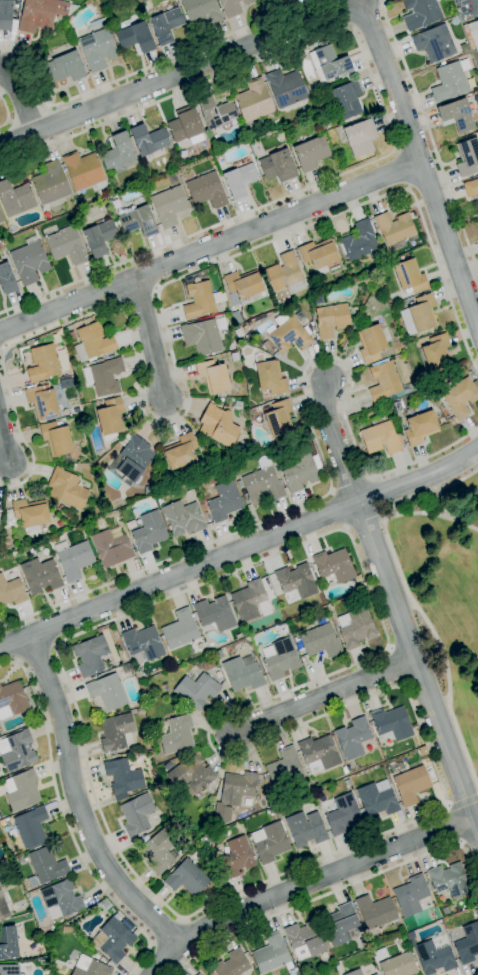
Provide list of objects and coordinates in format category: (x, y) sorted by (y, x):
road: (475, 5)
building: (233, 7)
building: (202, 11)
building: (154, 12)
building: (420, 13)
building: (6, 14)
building: (41, 14)
building: (166, 25)
building: (74, 33)
building: (472, 35)
building: (135, 38)
building: (434, 43)
building: (98, 45)
building: (328, 62)
building: (65, 67)
road: (142, 70)
road: (180, 75)
building: (450, 81)
building: (286, 88)
building: (347, 99)
building: (254, 101)
road: (23, 103)
road: (384, 112)
road: (6, 113)
building: (216, 113)
building: (457, 115)
building: (186, 126)
building: (360, 137)
road: (430, 137)
building: (148, 140)
building: (118, 153)
building: (311, 153)
building: (217, 155)
building: (467, 157)
road: (422, 164)
building: (278, 166)
road: (400, 169)
building: (84, 171)
building: (172, 179)
building: (239, 180)
building: (50, 183)
building: (145, 184)
building: (471, 187)
building: (207, 190)
building: (15, 197)
building: (169, 205)
building: (1, 218)
building: (138, 221)
building: (395, 229)
building: (99, 237)
building: (360, 241)
building: (66, 245)
road: (211, 248)
building: (318, 255)
building: (29, 261)
building: (354, 269)
building: (285, 274)
building: (409, 277)
building: (7, 279)
building: (367, 281)
building: (243, 284)
building: (234, 299)
building: (200, 300)
building: (419, 315)
building: (362, 316)
building: (331, 320)
building: (249, 323)
building: (244, 327)
building: (288, 333)
building: (71, 336)
building: (202, 337)
road: (149, 338)
building: (93, 342)
building: (371, 343)
road: (168, 344)
building: (267, 344)
building: (434, 354)
building: (234, 357)
building: (43, 363)
building: (213, 376)
building: (104, 377)
building: (270, 378)
building: (386, 382)
building: (459, 397)
building: (43, 402)
building: (76, 410)
building: (111, 419)
building: (278, 420)
building: (218, 425)
building: (420, 427)
building: (381, 437)
building: (57, 440)
road: (335, 443)
road: (4, 444)
building: (181, 451)
building: (208, 451)
building: (226, 454)
building: (131, 459)
road: (323, 463)
building: (301, 470)
building: (263, 483)
building: (239, 484)
building: (66, 488)
building: (156, 495)
road: (377, 496)
building: (224, 501)
building: (61, 508)
road: (338, 510)
building: (31, 514)
road: (434, 516)
building: (183, 518)
road: (364, 521)
building: (130, 524)
building: (126, 530)
building: (149, 532)
building: (112, 546)
road: (239, 549)
building: (74, 559)
building: (334, 566)
building: (40, 575)
building: (296, 581)
building: (11, 592)
park: (442, 597)
building: (248, 600)
road: (413, 605)
building: (215, 613)
building: (355, 628)
building: (180, 630)
building: (320, 641)
building: (143, 643)
road: (53, 647)
road: (35, 652)
building: (91, 655)
building: (280, 658)
road: (18, 661)
road: (417, 668)
road: (334, 671)
building: (243, 673)
building: (218, 675)
building: (196, 690)
building: (107, 691)
road: (321, 697)
building: (12, 700)
building: (391, 724)
building: (372, 729)
building: (116, 732)
building: (177, 735)
building: (353, 738)
building: (17, 751)
building: (319, 754)
building: (168, 766)
building: (285, 768)
building: (344, 770)
building: (190, 775)
building: (123, 776)
building: (347, 784)
building: (411, 785)
building: (238, 787)
building: (21, 790)
building: (376, 800)
road: (461, 803)
road: (78, 804)
building: (272, 811)
building: (137, 814)
building: (342, 814)
road: (67, 822)
road: (452, 825)
building: (31, 827)
building: (305, 829)
building: (270, 842)
building: (159, 852)
building: (236, 858)
building: (46, 867)
road: (323, 876)
building: (186, 878)
building: (449, 880)
road: (333, 889)
building: (410, 895)
building: (62, 898)
building: (3, 909)
building: (375, 912)
road: (181, 921)
building: (340, 924)
road: (168, 934)
building: (410, 936)
building: (305, 939)
building: (112, 940)
building: (411, 942)
building: (8, 943)
road: (152, 944)
building: (468, 944)
building: (271, 954)
building: (379, 954)
building: (434, 955)
building: (42, 959)
road: (166, 960)
building: (231, 964)
building: (399, 965)
building: (90, 967)
building: (9, 970)
building: (355, 972)
building: (61, 973)
building: (197, 974)
building: (199, 974)
building: (375, 974)

